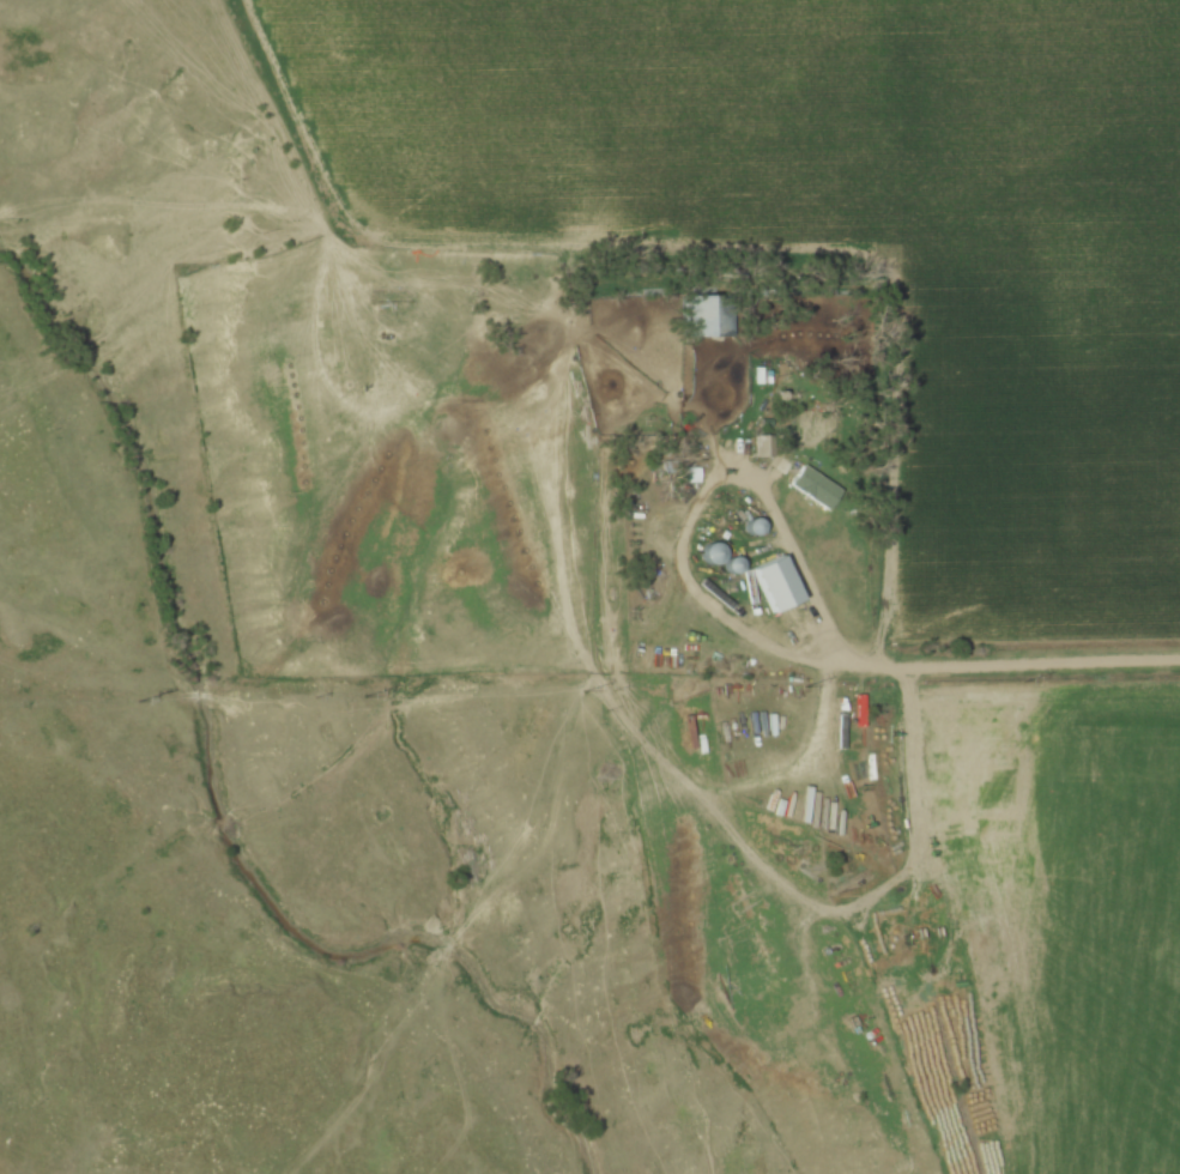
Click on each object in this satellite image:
building: (710, 316)
building: (816, 488)
road: (692, 516)
building: (777, 586)
road: (1017, 665)
building: (806, 811)

